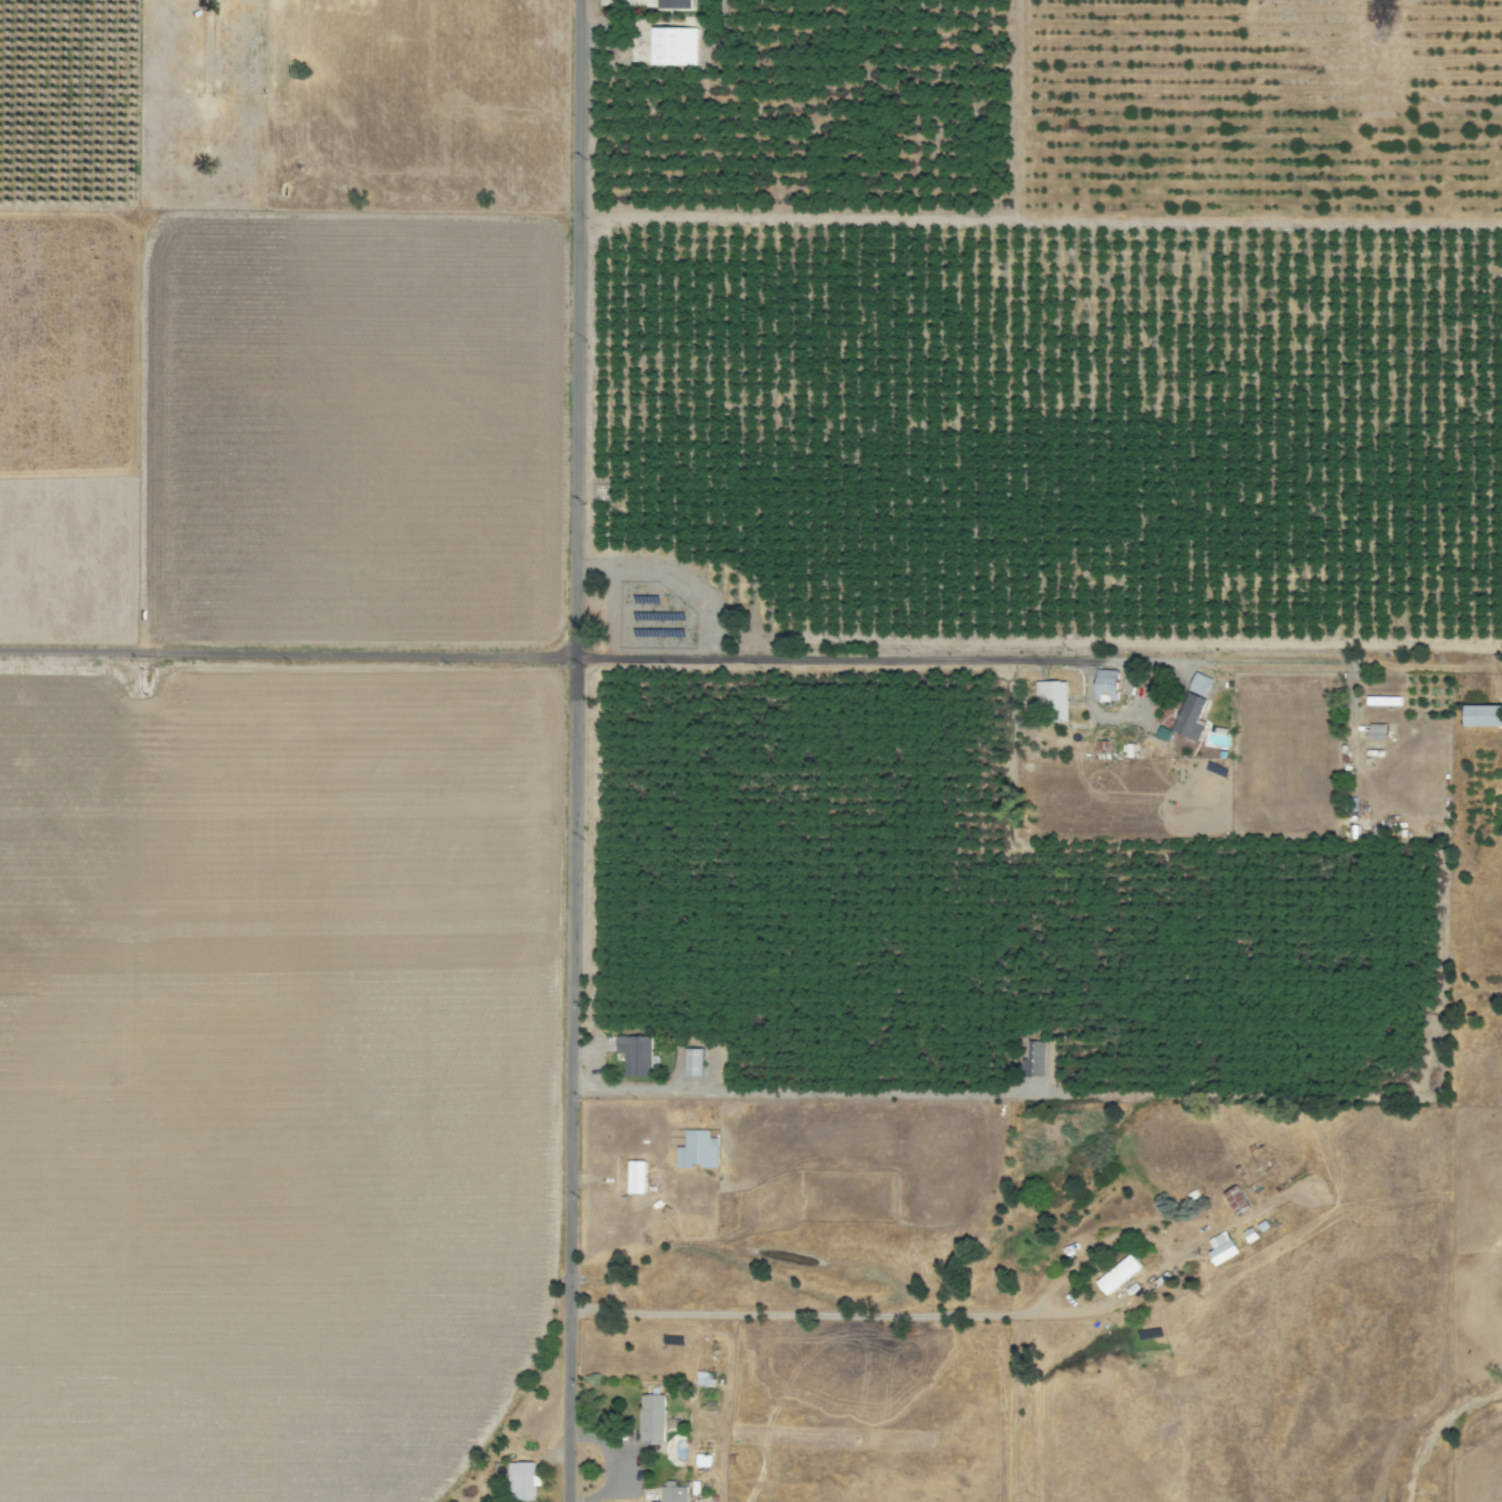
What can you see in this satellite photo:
building: (674, 4)
building: (674, 46)
road: (576, 327)
road: (284, 652)
road: (890, 656)
building: (1106, 685)
building: (1200, 685)
building: (1052, 697)
building: (1382, 701)
building: (1483, 716)
building: (1190, 717)
building: (1377, 731)
road: (132, 924)
building: (636, 1054)
building: (1034, 1057)
building: (693, 1061)
road: (565, 1078)
building: (697, 1149)
building: (635, 1176)
building: (1236, 1199)
building: (1221, 1247)
building: (1118, 1274)
road: (965, 1315)
building: (703, 1378)
building: (651, 1417)
building: (522, 1480)
building: (672, 1492)

